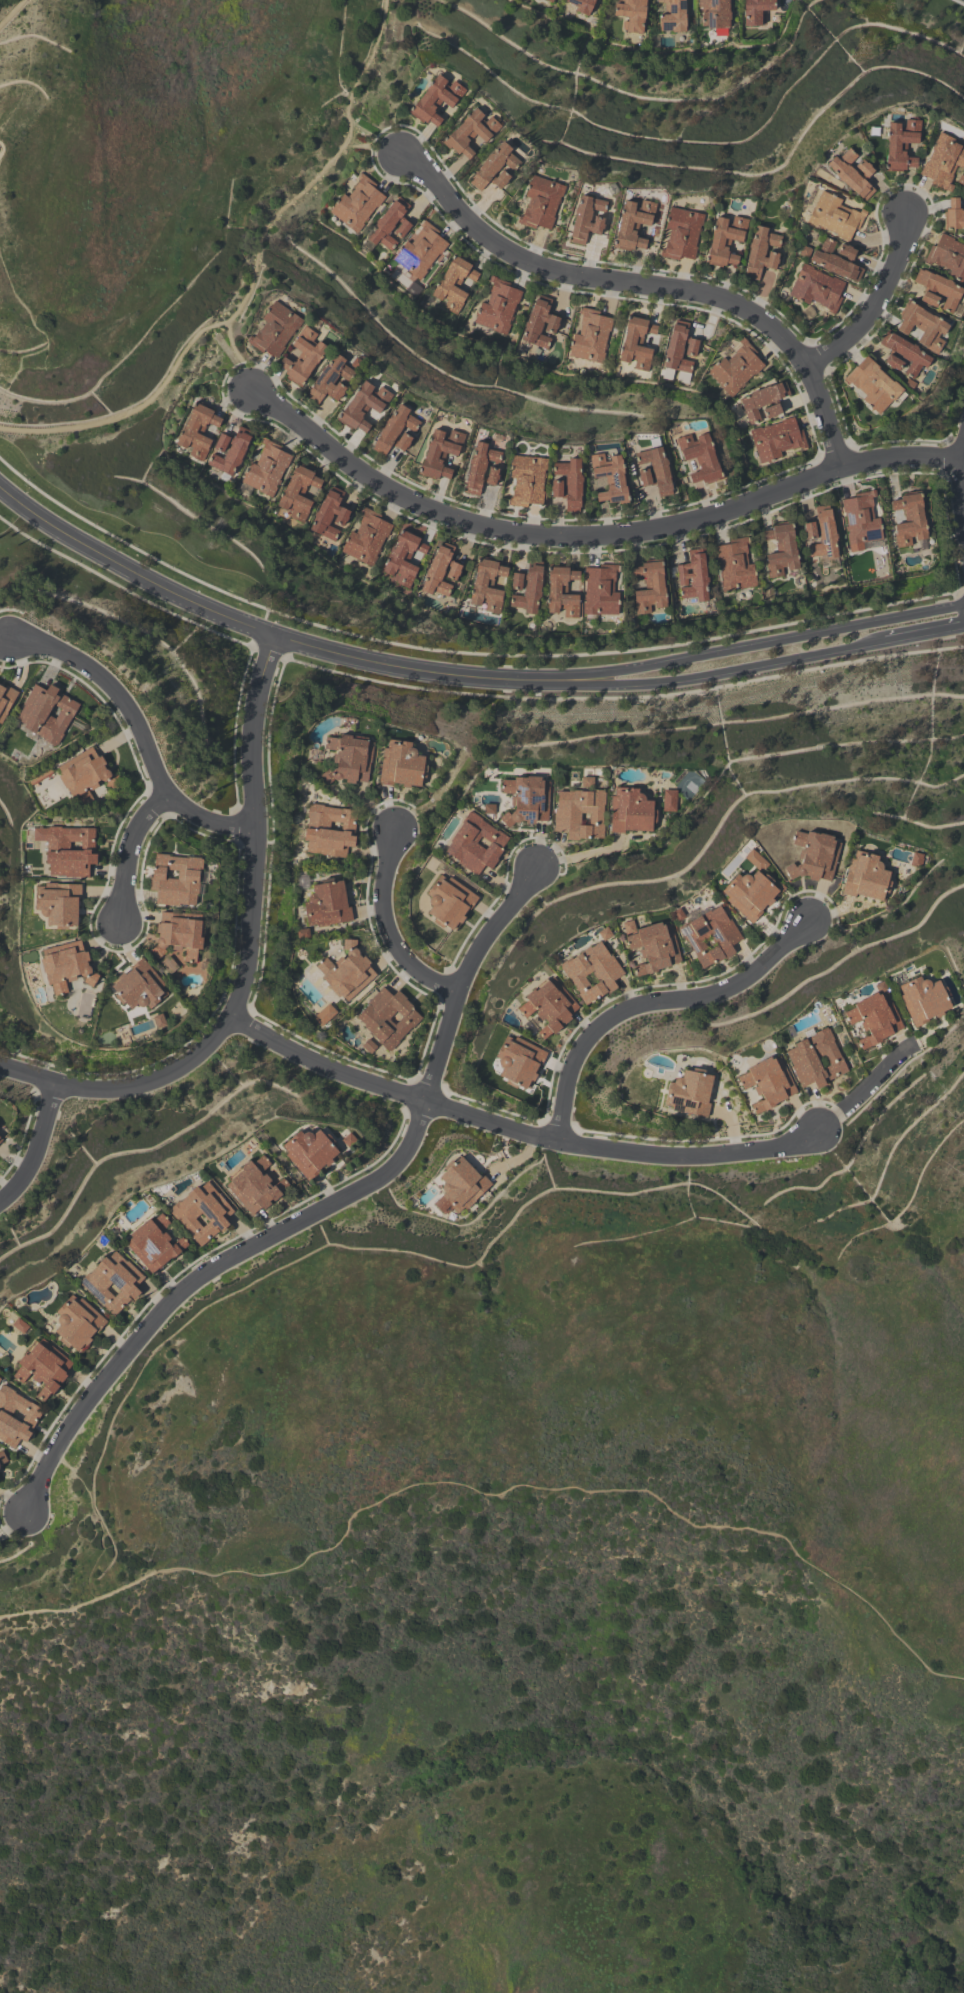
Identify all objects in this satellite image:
building: (550, 0)
park: (4, 2)
building: (582, 5)
road: (383, 10)
building: (756, 11)
building: (714, 13)
building: (631, 14)
building: (672, 15)
road: (16, 17)
building: (435, 98)
road: (346, 111)
building: (470, 132)
building: (900, 144)
road: (374, 148)
building: (943, 161)
building: (494, 166)
building: (852, 173)
building: (961, 178)
building: (541, 202)
building: (357, 203)
building: (835, 215)
building: (953, 215)
building: (587, 217)
building: (390, 223)
building: (634, 223)
building: (681, 233)
building: (724, 239)
building: (420, 250)
building: (761, 251)
building: (948, 256)
building: (836, 259)
building: (454, 282)
road: (647, 286)
building: (816, 287)
building: (939, 287)
building: (929, 298)
building: (497, 305)
road: (875, 305)
building: (539, 321)
building: (922, 326)
building: (275, 329)
building: (590, 335)
building: (636, 341)
building: (679, 347)
building: (903, 353)
building: (303, 355)
road: (239, 359)
building: (736, 367)
building: (682, 376)
building: (331, 379)
building: (873, 384)
road: (153, 392)
building: (763, 401)
building: (362, 405)
building: (197, 430)
building: (395, 431)
building: (776, 438)
building: (229, 450)
building: (440, 452)
building: (700, 457)
building: (266, 468)
building: (481, 468)
road: (961, 468)
building: (654, 470)
building: (610, 477)
building: (527, 479)
building: (568, 483)
building: (297, 492)
building: (329, 513)
building: (909, 519)
building: (860, 520)
building: (821, 533)
building: (367, 536)
road: (594, 539)
building: (781, 550)
building: (404, 556)
building: (734, 564)
building: (441, 569)
building: (693, 576)
building: (487, 584)
building: (527, 587)
building: (649, 587)
building: (600, 589)
building: (562, 590)
road: (130, 592)
road: (923, 631)
road: (272, 635)
road: (771, 645)
road: (461, 651)
road: (731, 667)
building: (6, 699)
building: (46, 713)
road: (141, 732)
building: (349, 758)
building: (402, 764)
building: (85, 773)
building: (526, 799)
building: (669, 799)
building: (631, 810)
building: (579, 812)
building: (329, 828)
building: (476, 843)
building: (67, 848)
road: (128, 853)
road: (580, 855)
building: (812, 855)
building: (756, 859)
building: (916, 859)
building: (866, 877)
building: (176, 878)
building: (751, 894)
building: (449, 901)
building: (59, 903)
building: (327, 903)
road: (387, 926)
building: (179, 933)
building: (712, 936)
building: (656, 948)
road: (248, 956)
building: (66, 965)
building: (346, 971)
building: (592, 971)
building: (139, 985)
building: (924, 999)
road: (652, 1004)
building: (548, 1005)
building: (324, 1014)
building: (388, 1016)
building: (874, 1017)
building: (159, 1019)
building: (368, 1046)
building: (815, 1058)
building: (519, 1060)
building: (768, 1082)
road: (862, 1089)
building: (689, 1092)
road: (515, 1132)
building: (1, 1139)
road: (34, 1148)
building: (310, 1151)
building: (254, 1185)
building: (460, 1186)
building: (202, 1212)
road: (311, 1213)
building: (153, 1243)
building: (112, 1282)
building: (77, 1322)
building: (20, 1325)
building: (43, 1366)
building: (16, 1415)
building: (2, 1457)
road: (574, 1487)
road: (80, 1603)

